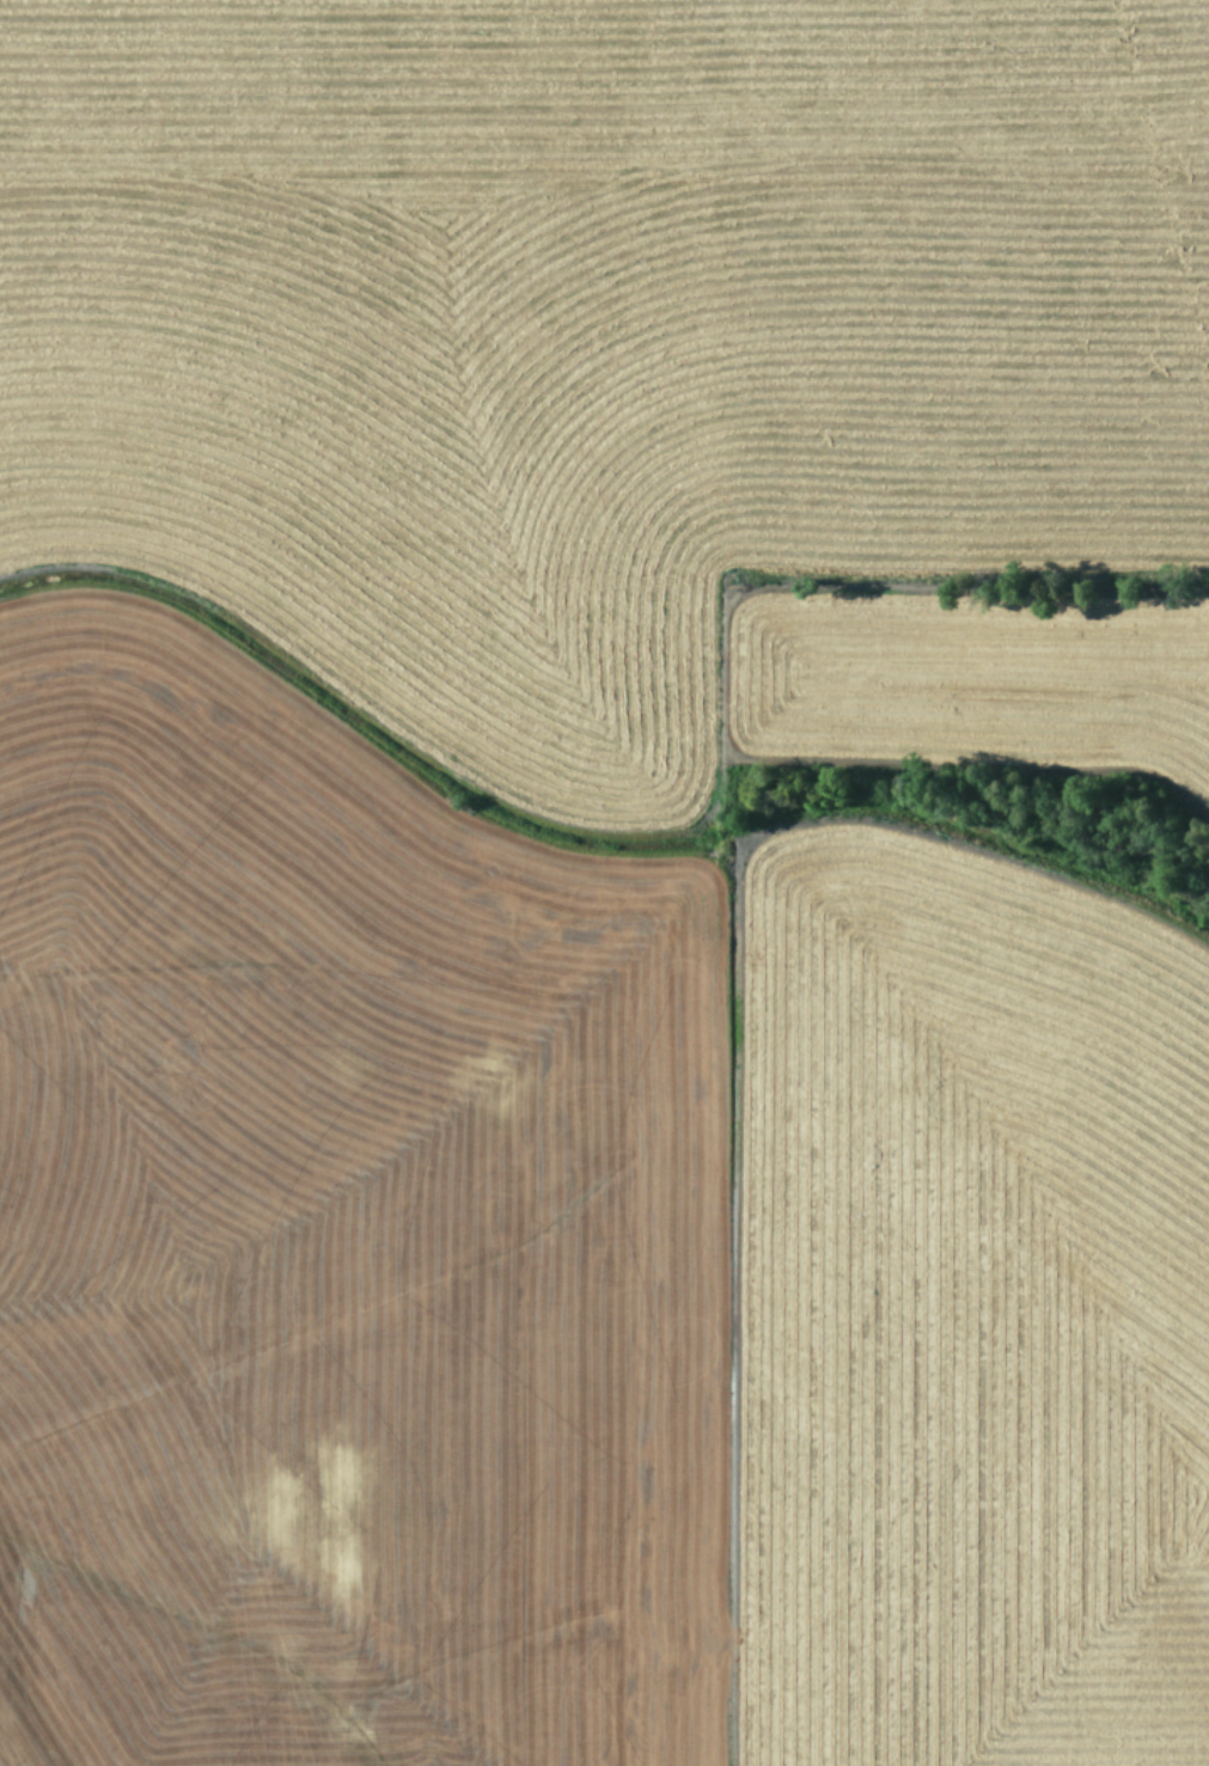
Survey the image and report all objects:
crop: (604, 882)

